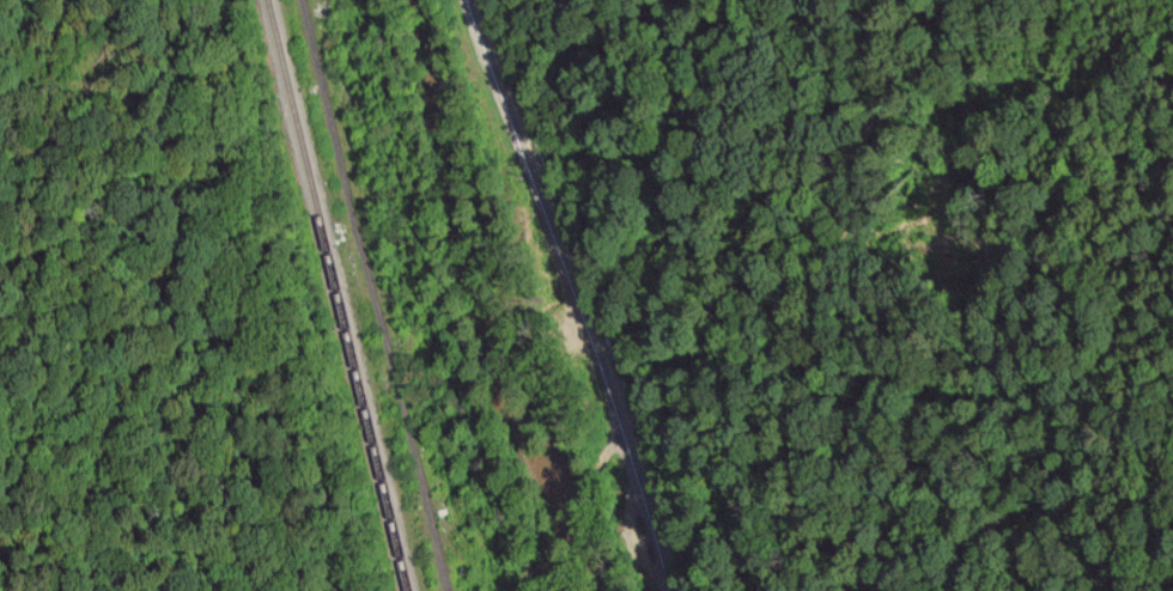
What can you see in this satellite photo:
railway: (338, 294)
road: (576, 294)
river: (516, 297)
quarry: (417, 304)

